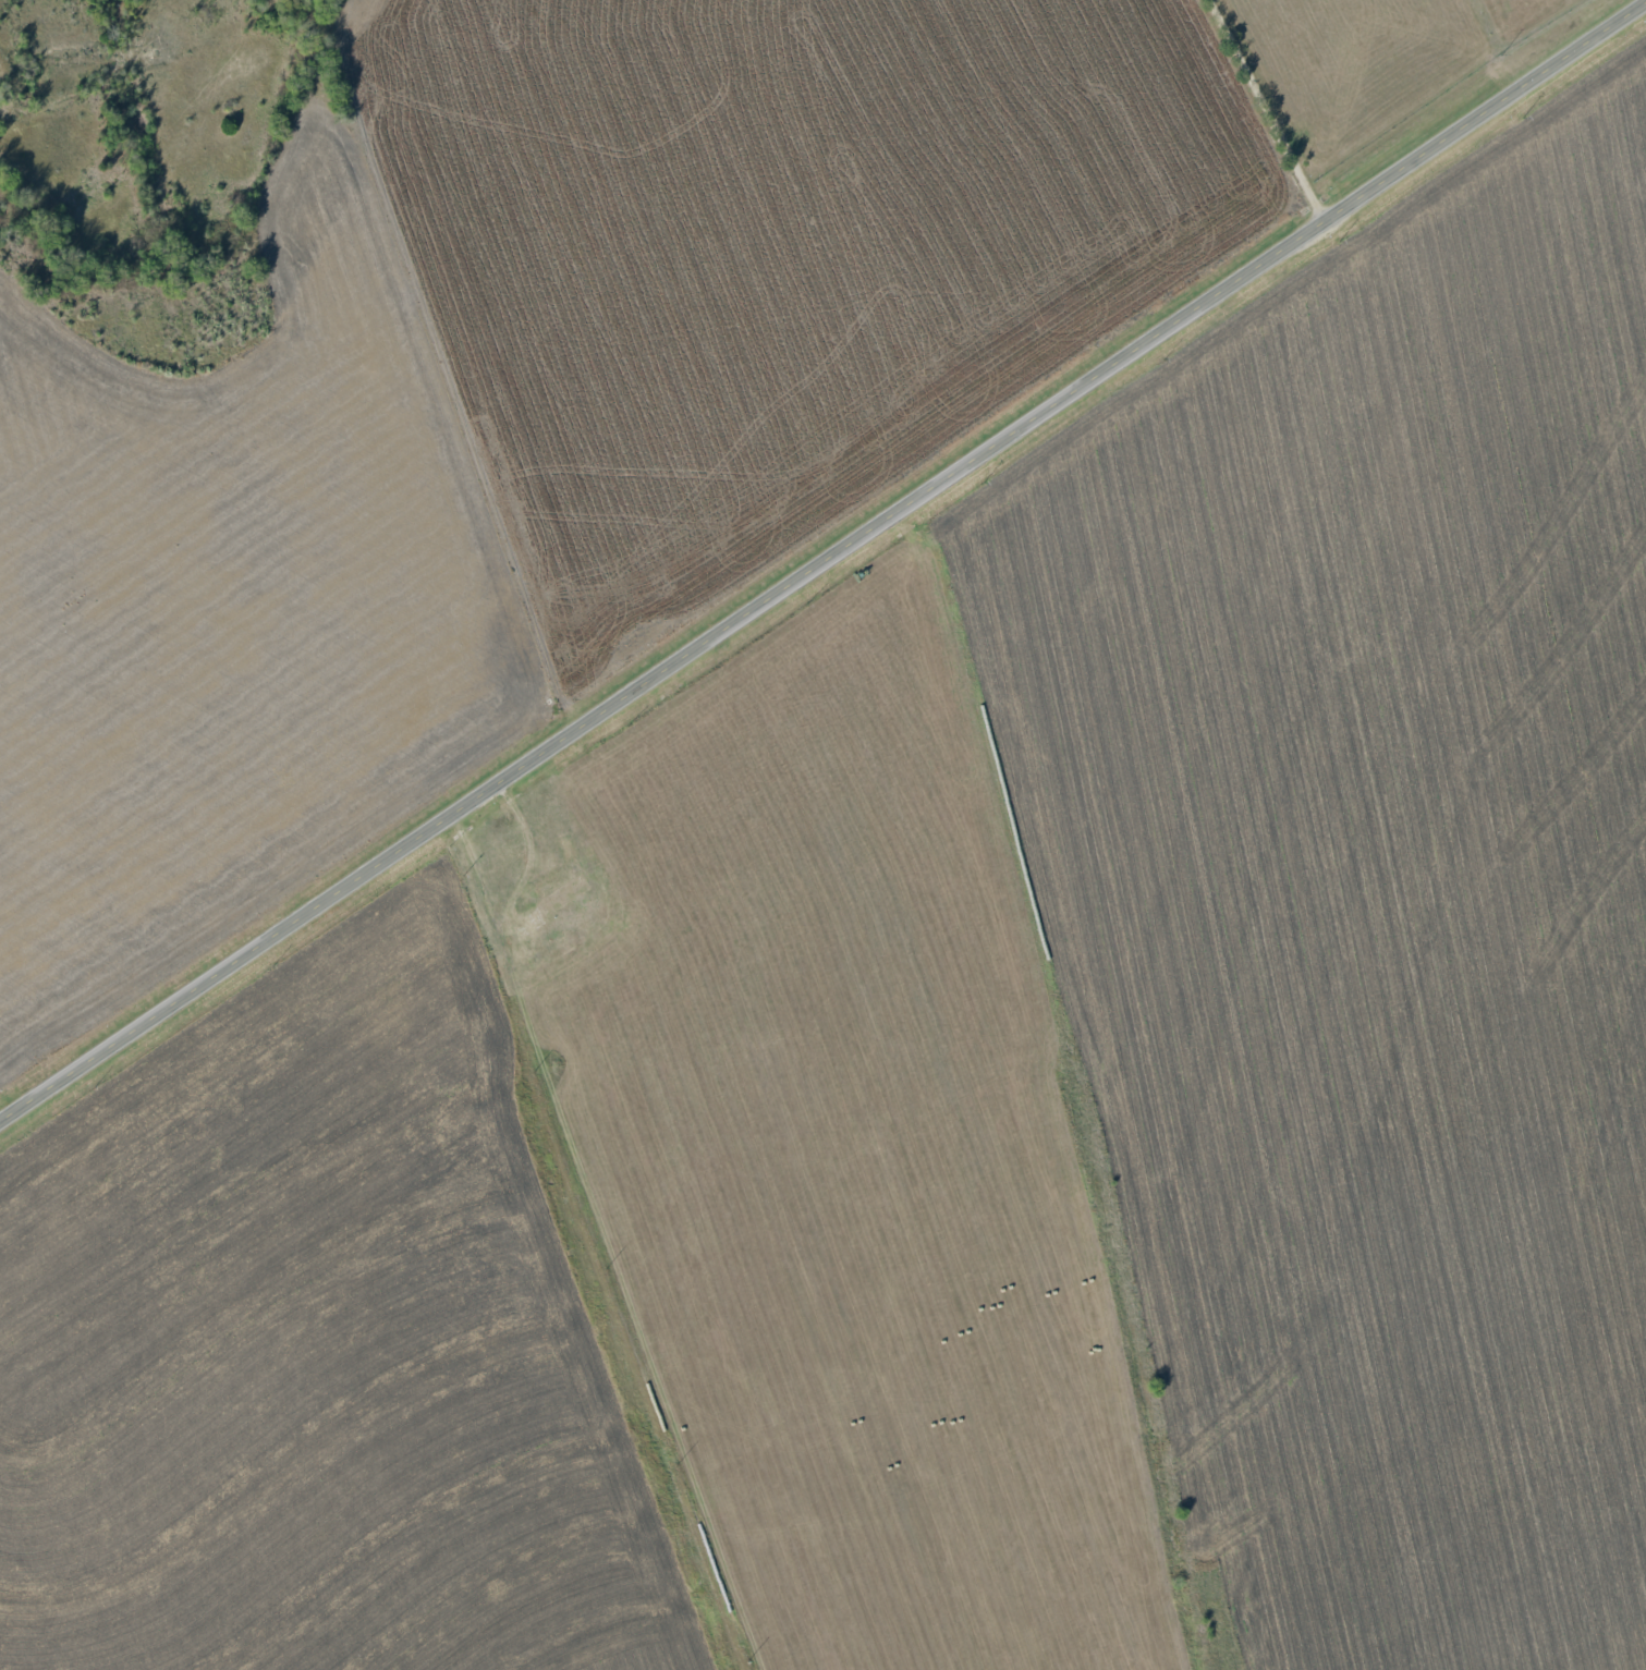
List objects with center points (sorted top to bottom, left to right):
road: (1261, 113)
road: (822, 563)
road: (791, 1190)

